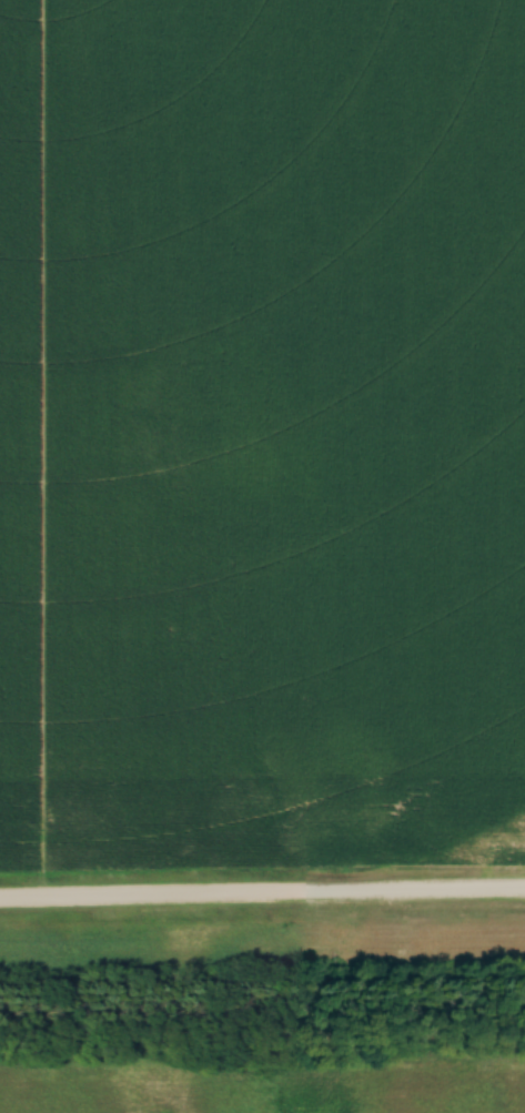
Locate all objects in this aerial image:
road: (262, 900)

